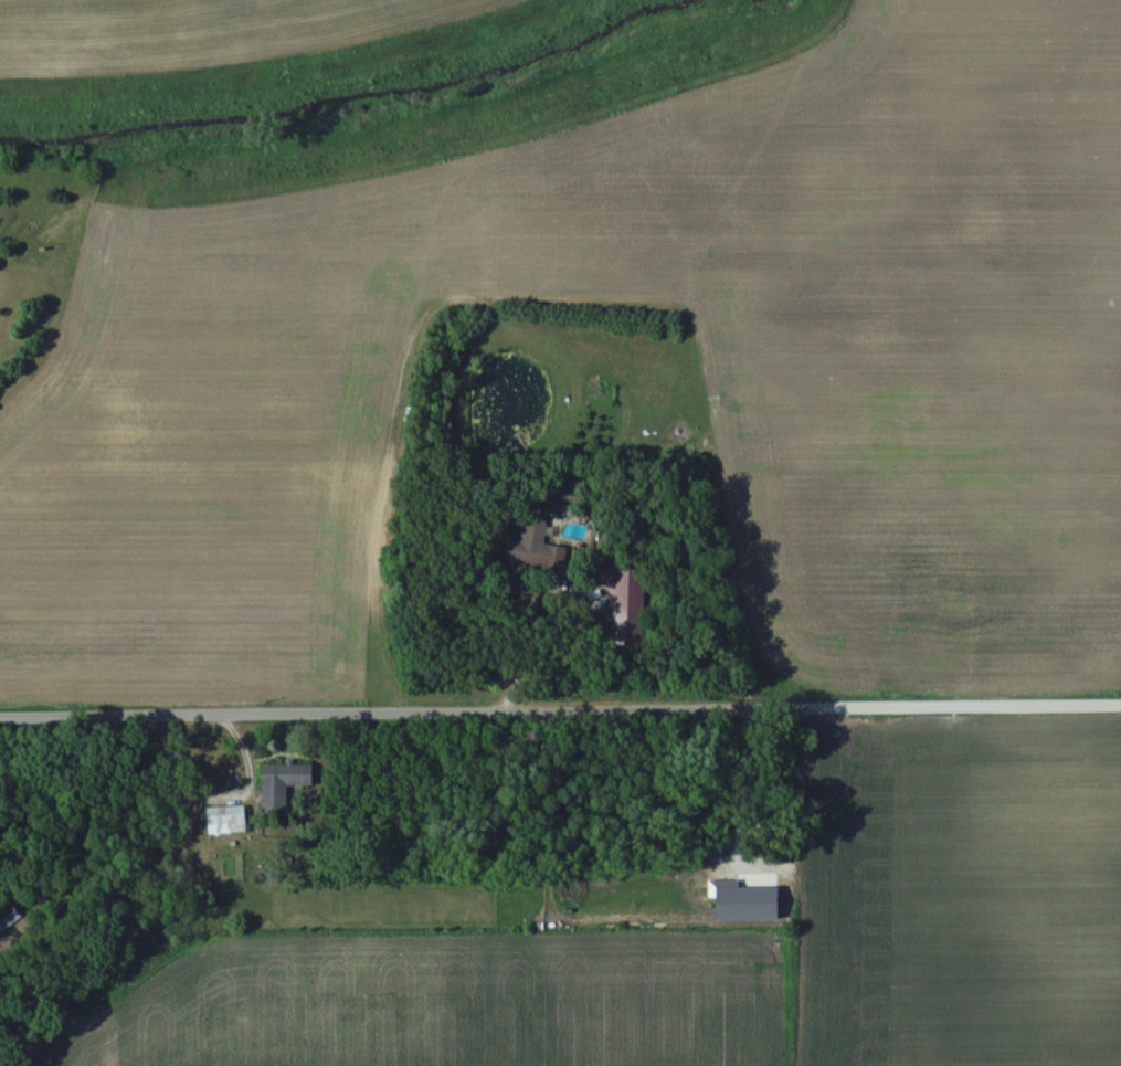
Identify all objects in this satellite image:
building: (529, 537)
building: (624, 598)
road: (560, 709)
building: (278, 784)
building: (222, 820)
building: (8, 918)

